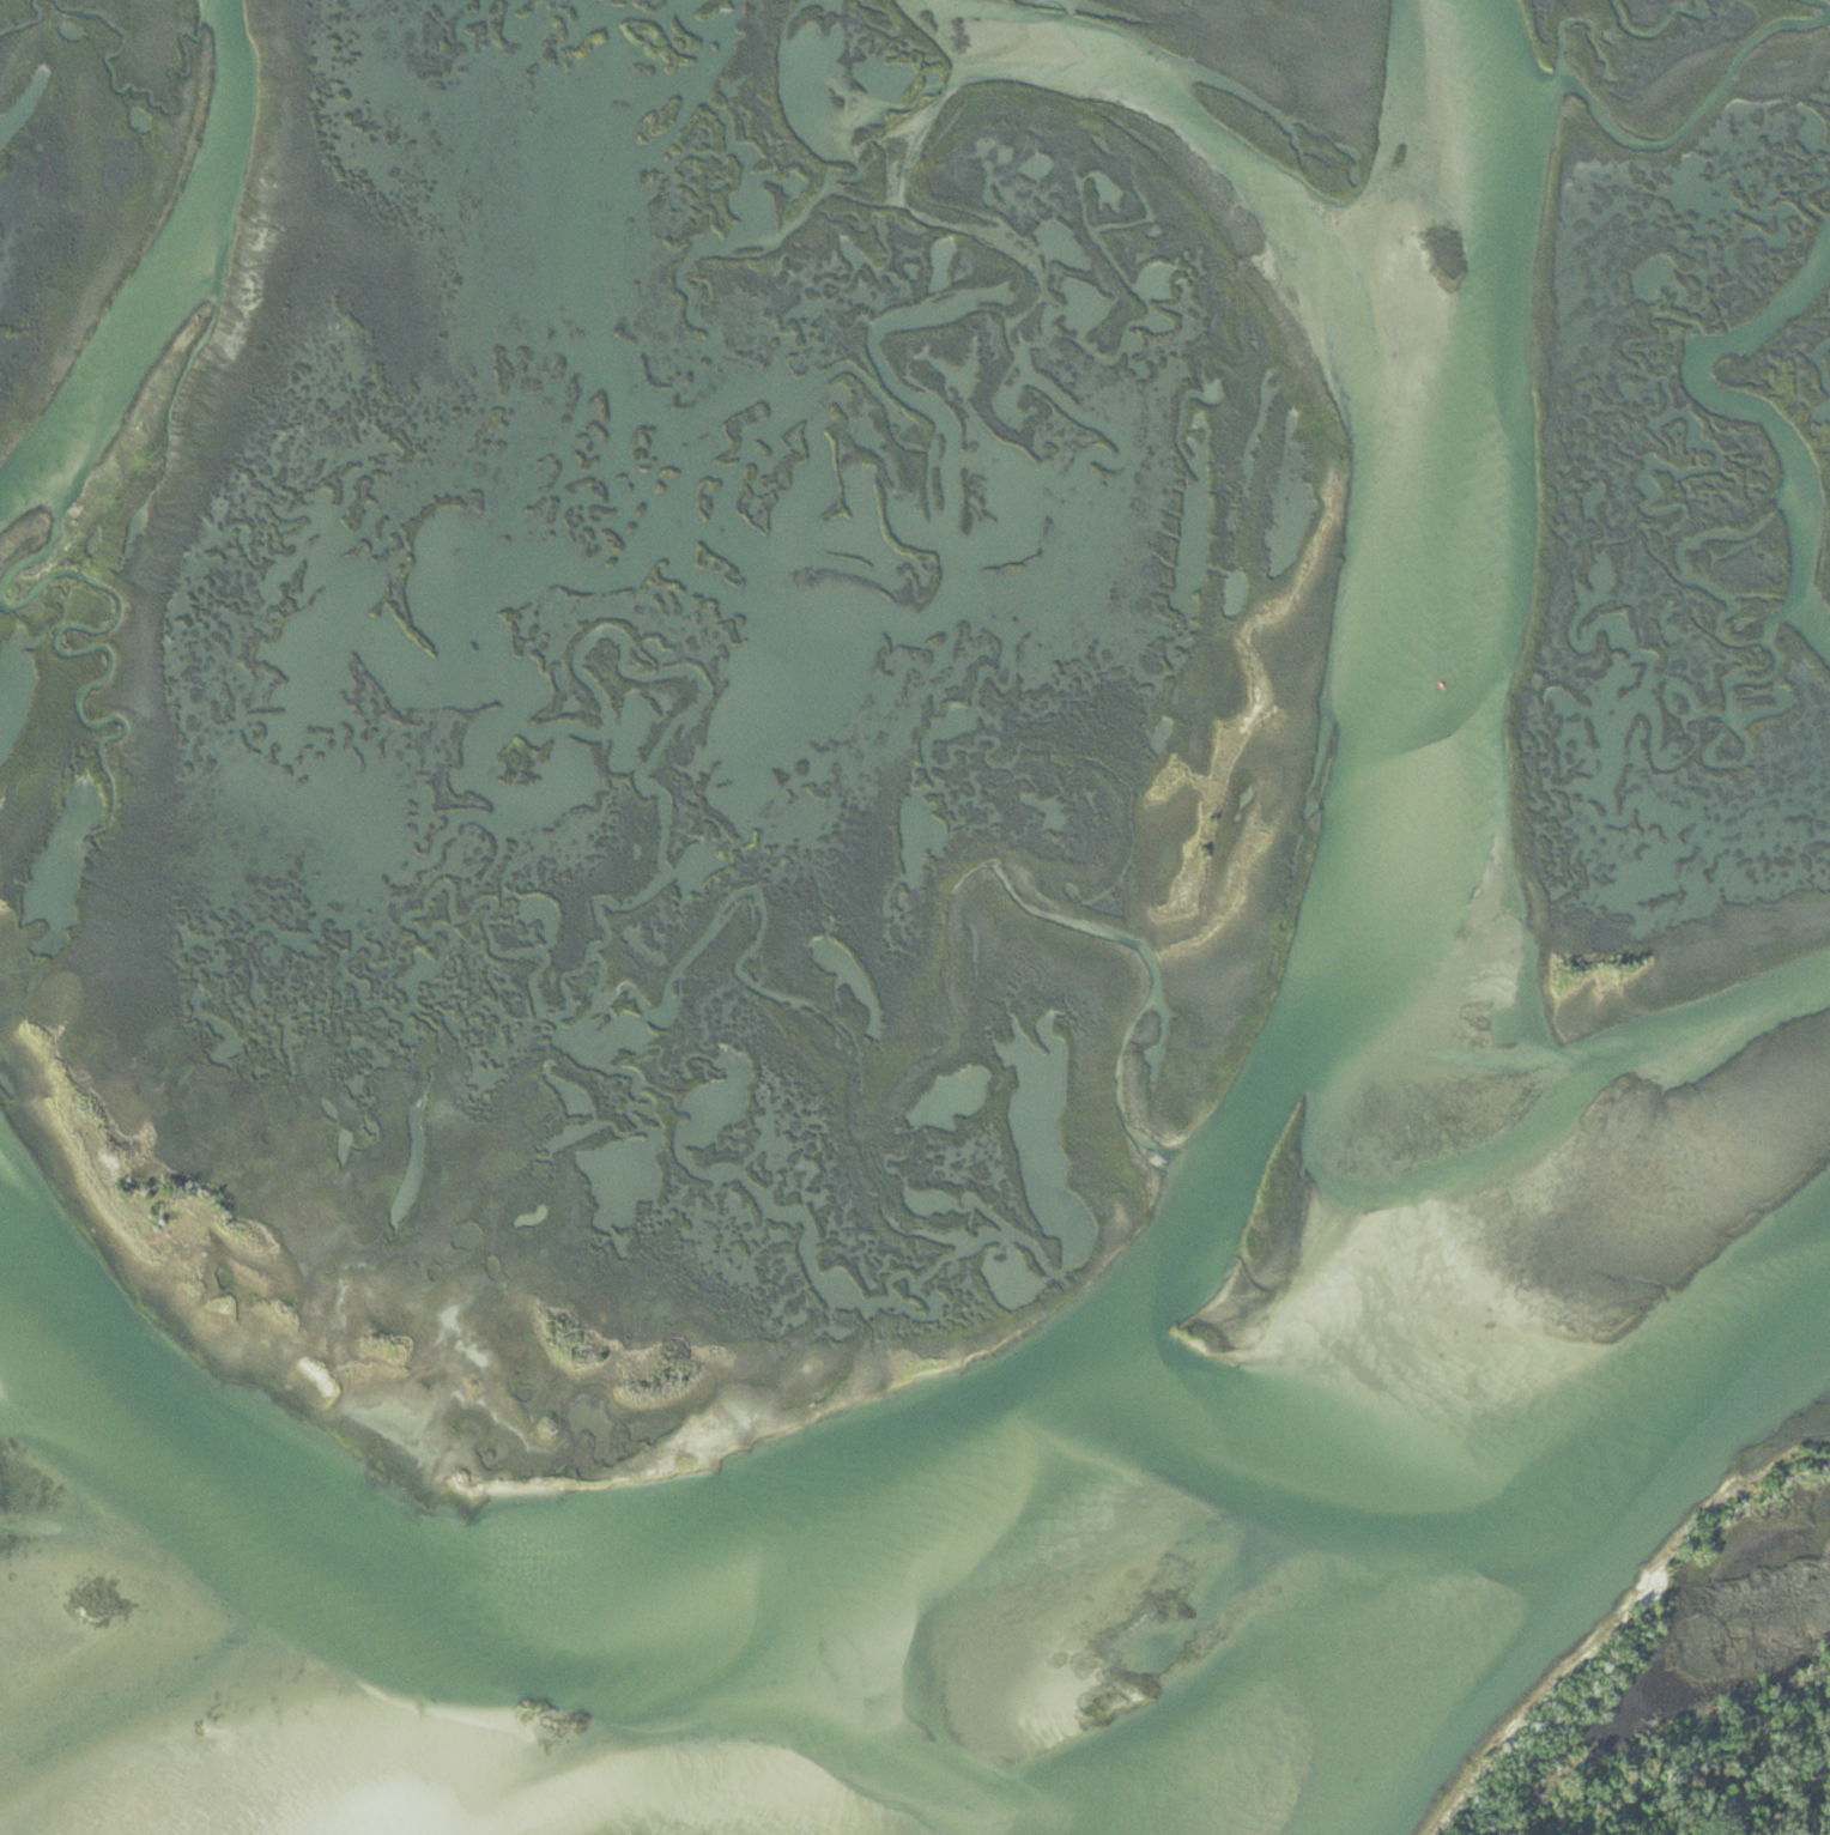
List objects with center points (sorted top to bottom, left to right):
park: (1681, 1683)

